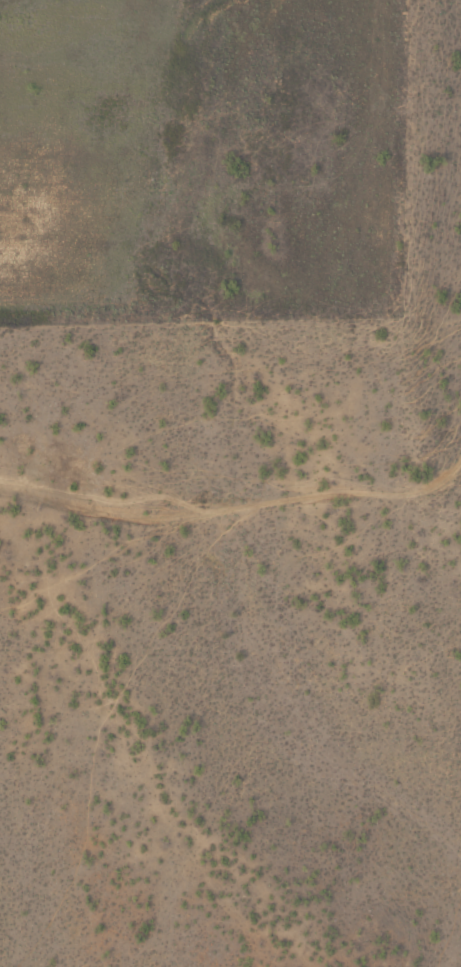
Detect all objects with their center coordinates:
road: (242, 510)

